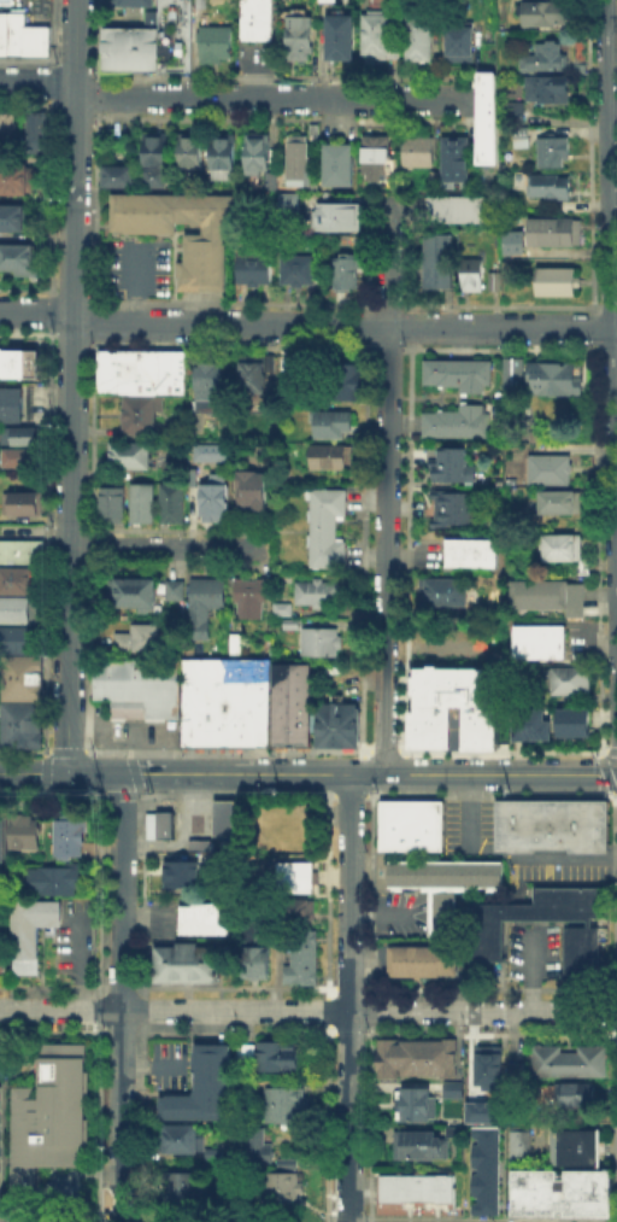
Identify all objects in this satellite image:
building: (135, 2)
building: (201, 4)
building: (546, 12)
building: (255, 19)
building: (23, 31)
building: (172, 35)
building: (337, 35)
building: (374, 35)
building: (298, 36)
building: (417, 36)
building: (458, 41)
building: (213, 43)
building: (128, 48)
building: (543, 57)
building: (545, 87)
road: (230, 98)
building: (511, 111)
building: (486, 117)
building: (37, 129)
building: (8, 130)
building: (519, 130)
building: (153, 148)
building: (188, 148)
building: (416, 150)
building: (551, 150)
building: (372, 153)
building: (254, 154)
building: (295, 156)
building: (219, 157)
building: (454, 158)
building: (336, 163)
road: (607, 163)
building: (114, 175)
building: (152, 175)
building: (431, 176)
building: (269, 180)
building: (13, 181)
building: (550, 189)
building: (290, 203)
building: (460, 212)
building: (337, 220)
building: (12, 221)
building: (557, 235)
building: (349, 242)
building: (204, 246)
building: (513, 250)
building: (16, 262)
building: (441, 264)
building: (255, 270)
building: (302, 273)
building: (349, 275)
building: (472, 276)
building: (496, 283)
building: (559, 285)
road: (305, 323)
road: (613, 326)
building: (18, 362)
building: (140, 370)
building: (512, 372)
building: (457, 373)
building: (249, 378)
building: (551, 378)
building: (206, 380)
building: (347, 380)
road: (71, 386)
building: (10, 403)
building: (136, 414)
building: (456, 421)
building: (328, 422)
building: (17, 435)
building: (207, 451)
building: (125, 454)
building: (17, 456)
building: (329, 456)
building: (452, 464)
building: (548, 468)
building: (190, 475)
road: (386, 485)
building: (249, 487)
road: (613, 497)
building: (169, 501)
building: (212, 501)
building: (558, 501)
building: (110, 502)
building: (139, 502)
building: (23, 504)
building: (453, 507)
building: (325, 527)
building: (560, 545)
road: (168, 548)
building: (471, 551)
building: (20, 552)
building: (14, 579)
building: (172, 587)
building: (442, 590)
building: (131, 591)
building: (315, 591)
building: (546, 594)
building: (248, 596)
building: (202, 602)
building: (280, 607)
building: (14, 608)
building: (289, 621)
building: (16, 638)
building: (136, 638)
building: (318, 639)
building: (537, 641)
road: (411, 645)
building: (20, 676)
building: (566, 679)
building: (136, 685)
building: (224, 701)
building: (289, 703)
building: (571, 720)
building: (20, 724)
building: (335, 724)
building: (528, 724)
building: (430, 726)
road: (33, 772)
road: (95, 773)
road: (369, 774)
road: (325, 780)
road: (405, 780)
road: (136, 782)
road: (405, 790)
road: (101, 794)
road: (121, 794)
road: (137, 794)
road: (329, 794)
road: (347, 794)
road: (383, 794)
building: (223, 817)
building: (161, 823)
building: (409, 824)
building: (551, 824)
building: (24, 830)
building: (1, 837)
building: (66, 837)
building: (198, 843)
building: (180, 872)
building: (290, 875)
building: (53, 879)
road: (369, 884)
building: (442, 884)
road: (141, 893)
road: (325, 893)
road: (348, 893)
road: (96, 895)
building: (296, 914)
building: (524, 914)
building: (202, 919)
building: (29, 930)
building: (580, 951)
building: (298, 954)
building: (0, 958)
building: (421, 959)
building: (252, 960)
building: (186, 963)
road: (121, 996)
road: (96, 1008)
road: (140, 1008)
road: (369, 1008)
road: (174, 1010)
road: (325, 1010)
road: (482, 1011)
building: (247, 1056)
building: (413, 1056)
building: (277, 1059)
building: (566, 1059)
building: (486, 1064)
building: (451, 1088)
building: (206, 1091)
building: (576, 1093)
building: (410, 1103)
building: (288, 1107)
building: (480, 1111)
road: (347, 1116)
road: (95, 1121)
road: (139, 1122)
road: (325, 1122)
road: (368, 1122)
building: (51, 1127)
building: (176, 1138)
building: (517, 1142)
building: (417, 1144)
building: (1, 1145)
building: (574, 1146)
building: (260, 1147)
building: (289, 1165)
building: (482, 1169)
building: (415, 1188)
building: (183, 1189)
building: (283, 1191)
building: (559, 1192)

